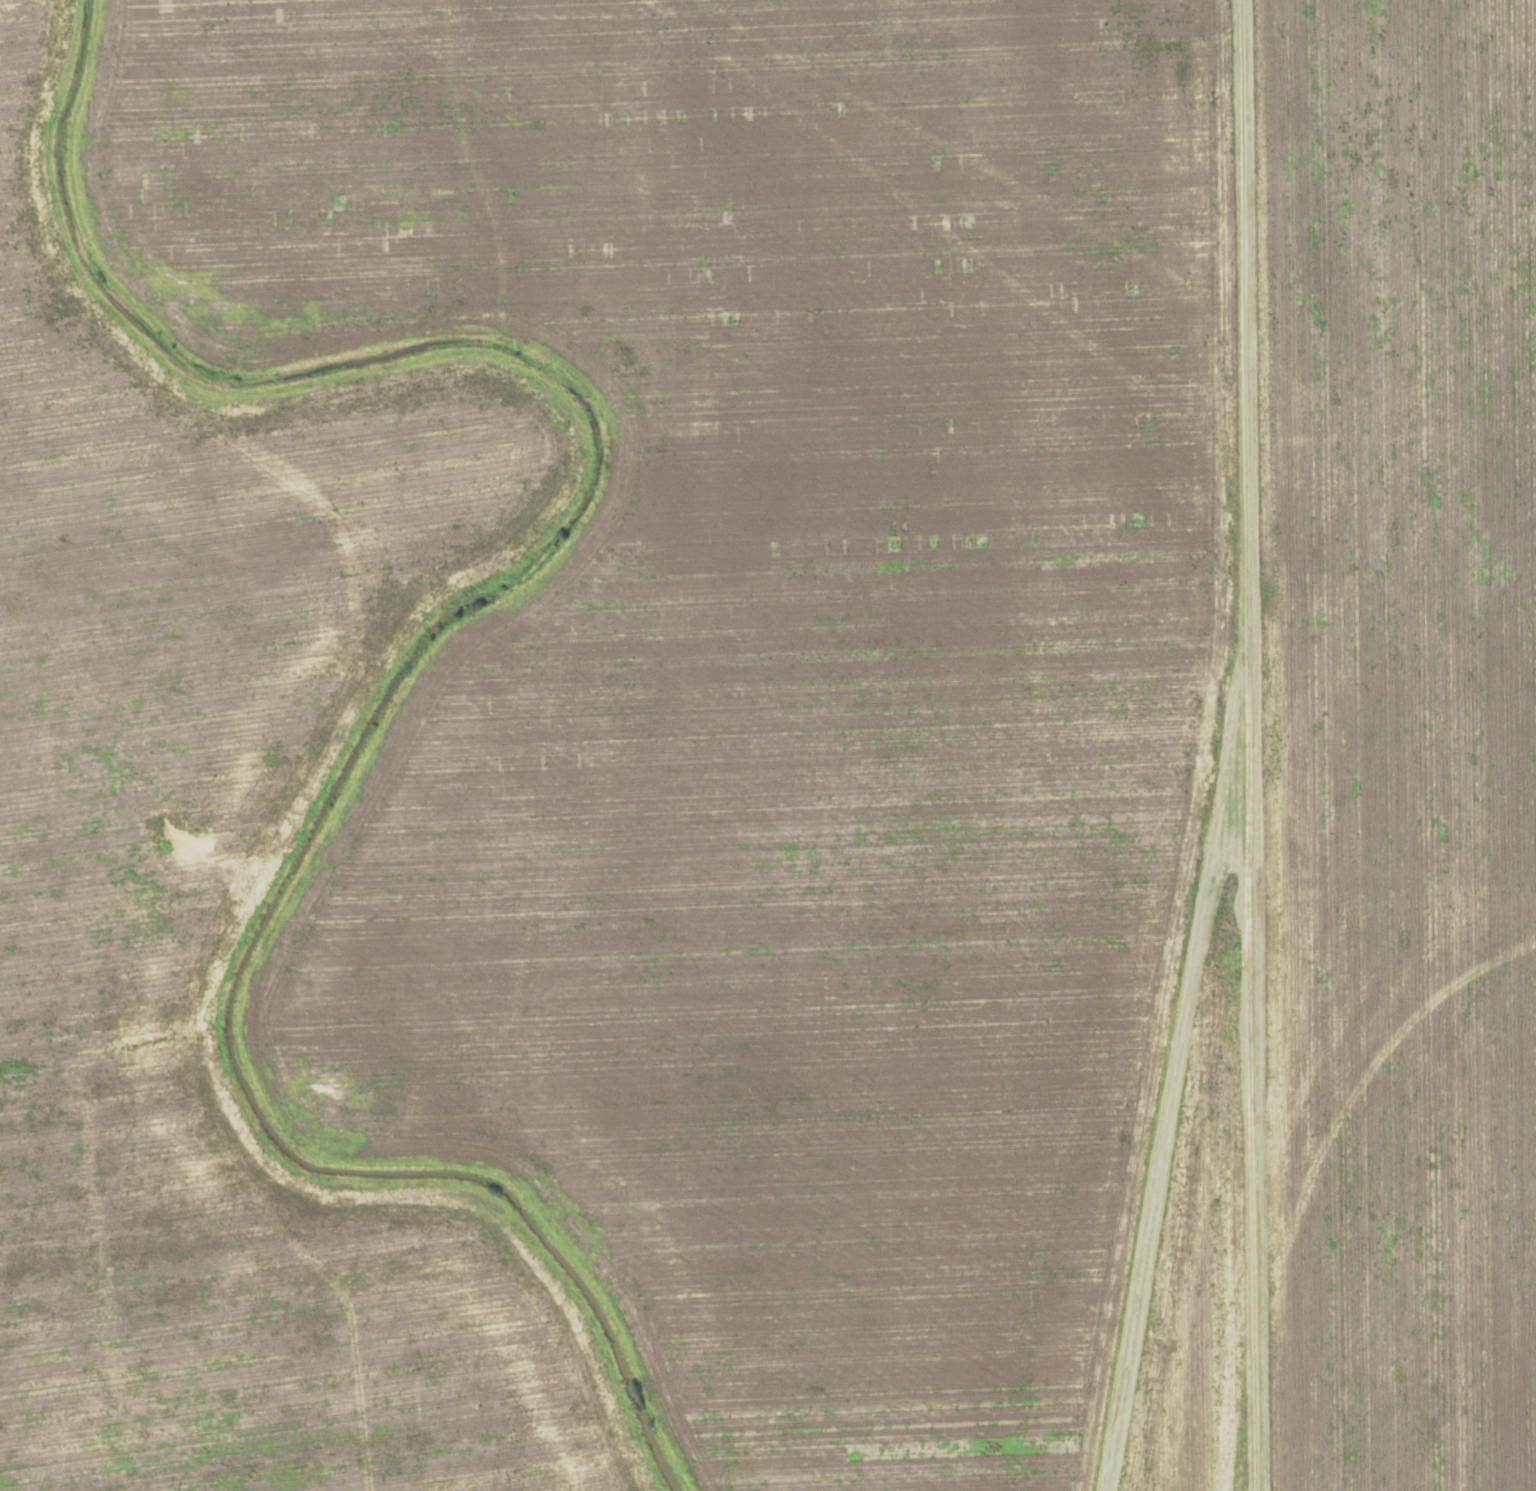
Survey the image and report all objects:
road: (1237, 745)

